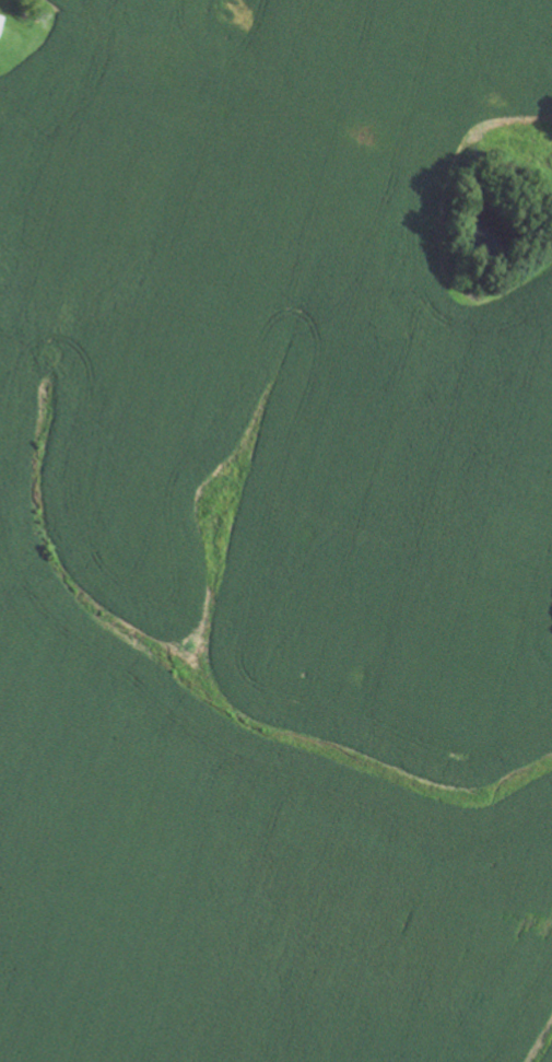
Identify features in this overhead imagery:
building: (1, 27)

